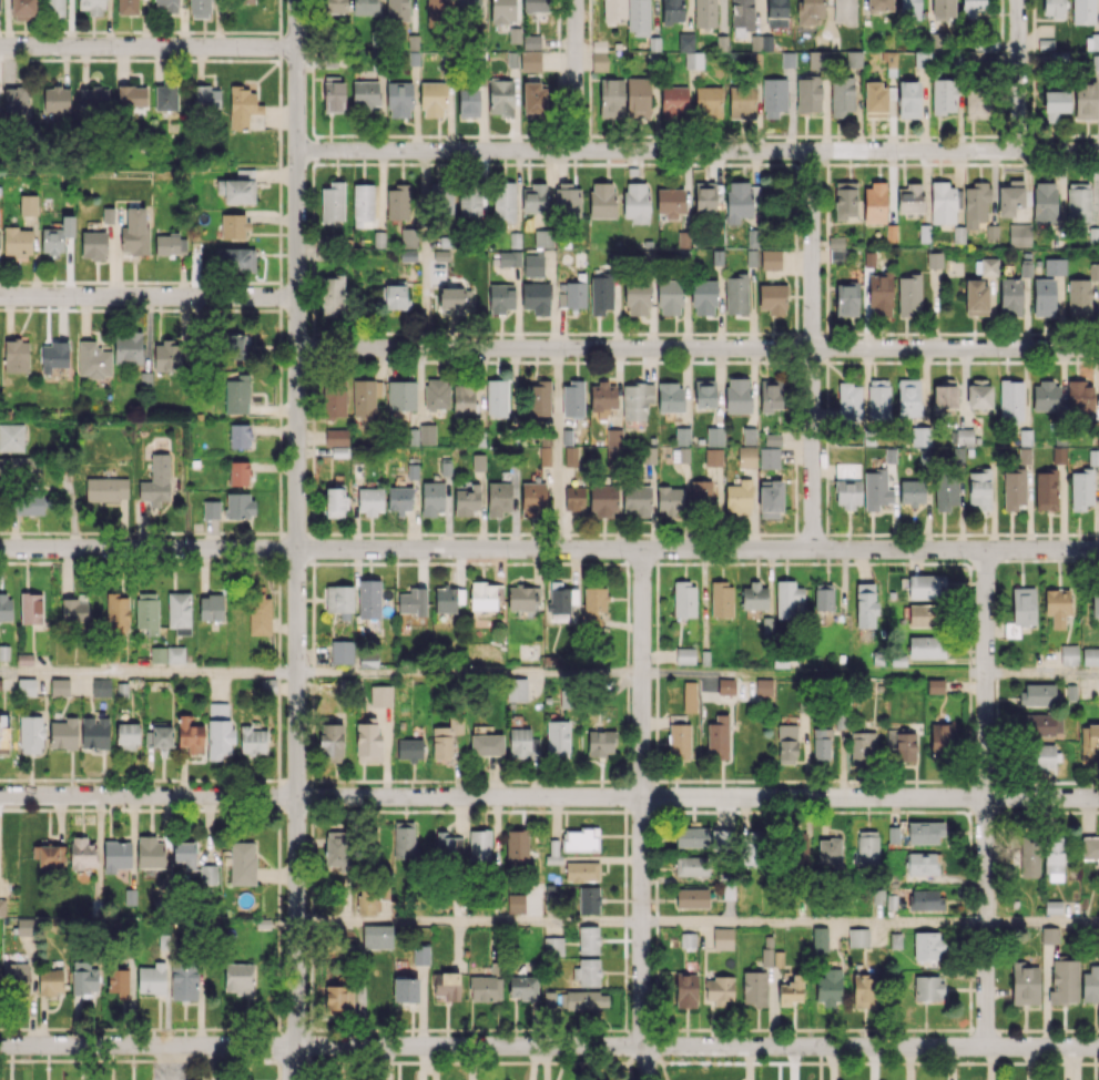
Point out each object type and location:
building: (246, 1)
building: (165, 4)
building: (535, 6)
building: (879, 6)
building: (23, 7)
building: (54, 7)
building: (92, 7)
building: (128, 7)
building: (335, 7)
building: (365, 7)
building: (467, 7)
building: (200, 8)
building: (908, 8)
building: (970, 8)
building: (1052, 8)
building: (397, 9)
building: (943, 9)
building: (672, 10)
building: (435, 11)
building: (502, 11)
building: (612, 11)
building: (808, 11)
building: (844, 11)
building: (1082, 11)
building: (704, 12)
building: (776, 13)
building: (638, 17)
building: (742, 17)
building: (531, 41)
building: (685, 41)
building: (413, 42)
building: (1091, 42)
road: (149, 45)
building: (787, 59)
building: (815, 59)
building: (853, 59)
building: (530, 60)
building: (599, 60)
building: (690, 60)
building: (891, 63)
building: (1095, 63)
road: (1018, 74)
road: (576, 75)
building: (365, 94)
building: (637, 94)
building: (808, 94)
building: (131, 95)
building: (500, 95)
building: (841, 95)
building: (943, 95)
building: (93, 96)
building: (334, 96)
building: (773, 96)
building: (165, 98)
building: (206, 98)
building: (611, 98)
building: (17, 99)
building: (55, 99)
building: (399, 99)
building: (433, 99)
building: (533, 99)
building: (876, 99)
building: (908, 99)
building: (673, 100)
building: (1086, 100)
building: (1056, 101)
building: (468, 102)
building: (742, 102)
building: (708, 103)
building: (976, 105)
building: (244, 109)
road: (698, 151)
building: (237, 187)
building: (706, 195)
building: (440, 197)
building: (912, 197)
building: (1009, 197)
building: (536, 198)
building: (567, 200)
building: (602, 200)
building: (845, 200)
building: (469, 201)
building: (635, 201)
building: (737, 201)
building: (1044, 201)
building: (333, 202)
building: (397, 202)
building: (505, 202)
building: (670, 202)
building: (1078, 202)
building: (874, 203)
building: (943, 203)
building: (28, 204)
building: (975, 204)
building: (363, 205)
building: (233, 225)
building: (134, 231)
building: (991, 232)
building: (57, 235)
building: (1015, 236)
building: (408, 237)
building: (542, 238)
building: (683, 238)
building: (17, 241)
building: (835, 242)
building: (93, 244)
building: (170, 244)
building: (407, 255)
building: (508, 258)
building: (868, 258)
building: (238, 259)
building: (770, 259)
building: (934, 259)
building: (532, 265)
building: (1054, 266)
building: (1093, 272)
building: (601, 293)
building: (574, 294)
building: (735, 294)
building: (879, 294)
building: (332, 295)
building: (393, 295)
building: (908, 295)
road: (149, 296)
building: (637, 296)
building: (670, 296)
building: (1010, 296)
building: (500, 297)
building: (536, 297)
building: (703, 297)
building: (976, 297)
building: (1044, 297)
building: (1078, 297)
building: (455, 298)
building: (772, 298)
building: (846, 299)
building: (236, 346)
building: (128, 347)
road: (698, 347)
road: (812, 349)
building: (16, 356)
building: (53, 356)
building: (166, 356)
building: (93, 359)
building: (144, 379)
building: (436, 393)
building: (704, 393)
building: (944, 394)
building: (979, 394)
building: (237, 395)
building: (401, 395)
building: (737, 395)
building: (770, 395)
building: (670, 396)
building: (1046, 396)
building: (1079, 396)
building: (365, 397)
building: (496, 397)
building: (908, 397)
building: (334, 398)
building: (464, 398)
building: (603, 398)
building: (539, 399)
building: (572, 399)
building: (637, 400)
building: (848, 400)
building: (877, 400)
building: (1010, 400)
building: (426, 434)
building: (749, 435)
building: (240, 436)
building: (336, 436)
building: (682, 436)
building: (714, 436)
building: (917, 436)
building: (964, 436)
building: (11, 437)
building: (613, 438)
building: (338, 451)
building: (648, 455)
building: (680, 455)
building: (1058, 455)
building: (545, 456)
building: (1024, 456)
building: (713, 457)
building: (746, 457)
building: (769, 457)
building: (478, 461)
building: (18, 467)
building: (238, 472)
building: (156, 480)
building: (979, 488)
building: (1014, 488)
building: (106, 489)
building: (876, 489)
building: (1081, 489)
building: (946, 490)
building: (1046, 490)
building: (912, 491)
building: (701, 492)
building: (847, 493)
building: (737, 497)
building: (431, 498)
building: (498, 498)
building: (574, 498)
building: (670, 498)
building: (399, 499)
building: (532, 499)
building: (637, 499)
building: (369, 500)
building: (467, 500)
building: (602, 500)
building: (771, 500)
building: (335, 501)
building: (27, 503)
building: (238, 505)
building: (211, 509)
road: (297, 540)
road: (549, 549)
building: (926, 585)
building: (485, 595)
building: (754, 597)
building: (823, 597)
building: (786, 598)
building: (368, 599)
building: (448, 599)
building: (684, 599)
building: (721, 599)
building: (339, 600)
building: (523, 600)
building: (411, 601)
building: (560, 602)
building: (865, 604)
building: (1095, 604)
building: (593, 605)
building: (1056, 605)
building: (211, 607)
building: (6, 608)
building: (31, 608)
building: (1022, 608)
building: (74, 609)
building: (116, 611)
building: (146, 612)
building: (179, 612)
building: (924, 615)
building: (925, 646)
building: (342, 652)
building: (166, 654)
building: (1069, 654)
building: (684, 655)
building: (1090, 656)
building: (897, 660)
road: (149, 672)
road: (469, 673)
road: (813, 673)
road: (1041, 673)
building: (0, 683)
building: (267, 685)
building: (935, 685)
building: (26, 686)
building: (59, 686)
building: (725, 686)
building: (763, 686)
building: (101, 687)
building: (516, 689)
building: (1038, 694)
building: (380, 695)
building: (689, 696)
building: (1042, 724)
building: (218, 731)
building: (94, 732)
building: (4, 733)
building: (31, 734)
building: (63, 734)
building: (126, 735)
building: (190, 735)
building: (157, 736)
building: (718, 737)
building: (557, 738)
building: (940, 738)
building: (444, 740)
building: (252, 741)
building: (679, 741)
building: (332, 742)
building: (367, 742)
building: (519, 742)
building: (786, 742)
building: (1088, 742)
building: (601, 743)
building: (486, 744)
building: (903, 745)
building: (821, 746)
building: (862, 747)
building: (409, 748)
building: (1039, 755)
road: (549, 796)
road: (985, 798)
road: (641, 815)
building: (924, 832)
building: (893, 834)
building: (691, 836)
building: (722, 837)
building: (404, 838)
building: (581, 839)
building: (446, 843)
building: (479, 845)
building: (517, 847)
building: (752, 847)
building: (796, 847)
building: (336, 848)
building: (865, 848)
building: (830, 849)
building: (1090, 849)
building: (150, 852)
building: (83, 853)
building: (553, 853)
building: (184, 854)
building: (115, 855)
building: (48, 856)
building: (1029, 856)
building: (1054, 860)
building: (242, 863)
building: (923, 863)
building: (691, 866)
building: (581, 870)
building: (207, 874)
building: (692, 898)
building: (589, 899)
building: (925, 899)
building: (367, 901)
building: (516, 903)
building: (6, 905)
building: (1052, 906)
road: (469, 921)
road: (813, 921)
road: (1041, 921)
building: (26, 926)
building: (1049, 935)
building: (376, 936)
building: (858, 937)
building: (722, 938)
building: (588, 939)
building: (688, 939)
building: (820, 939)
building: (895, 940)
building: (927, 945)
building: (553, 946)
building: (767, 950)
building: (420, 954)
building: (588, 971)
building: (16, 974)
building: (84, 978)
building: (151, 978)
building: (183, 978)
building: (238, 978)
building: (50, 981)
building: (1064, 981)
building: (118, 982)
building: (1024, 984)
building: (1090, 984)
building: (446, 985)
building: (864, 987)
building: (485, 988)
building: (522, 988)
building: (754, 988)
building: (828, 988)
building: (928, 988)
building: (405, 989)
building: (719, 989)
building: (685, 990)
building: (791, 990)
building: (338, 998)
building: (587, 999)
road: (549, 1046)

